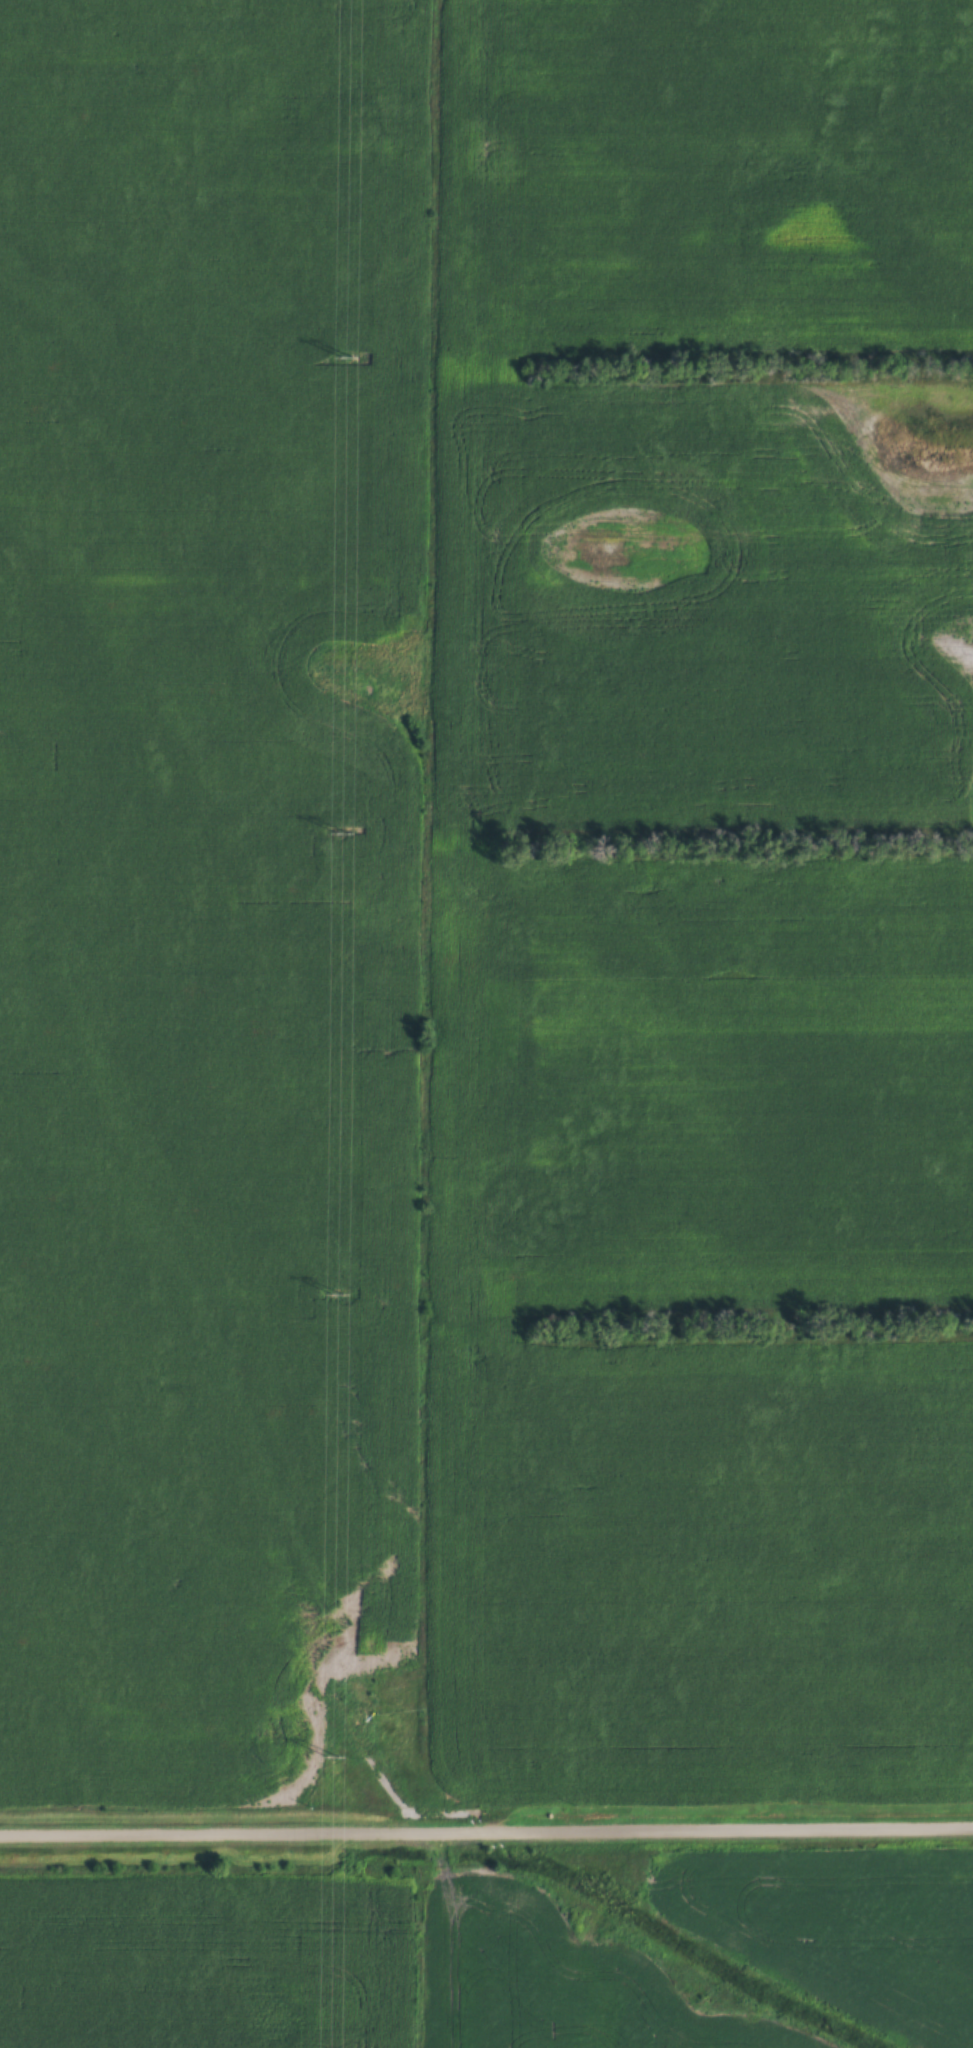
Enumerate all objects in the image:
power tower: (343, 361)
power tower: (343, 834)
power tower: (338, 1294)
power tower: (337, 1756)
road: (486, 1828)

